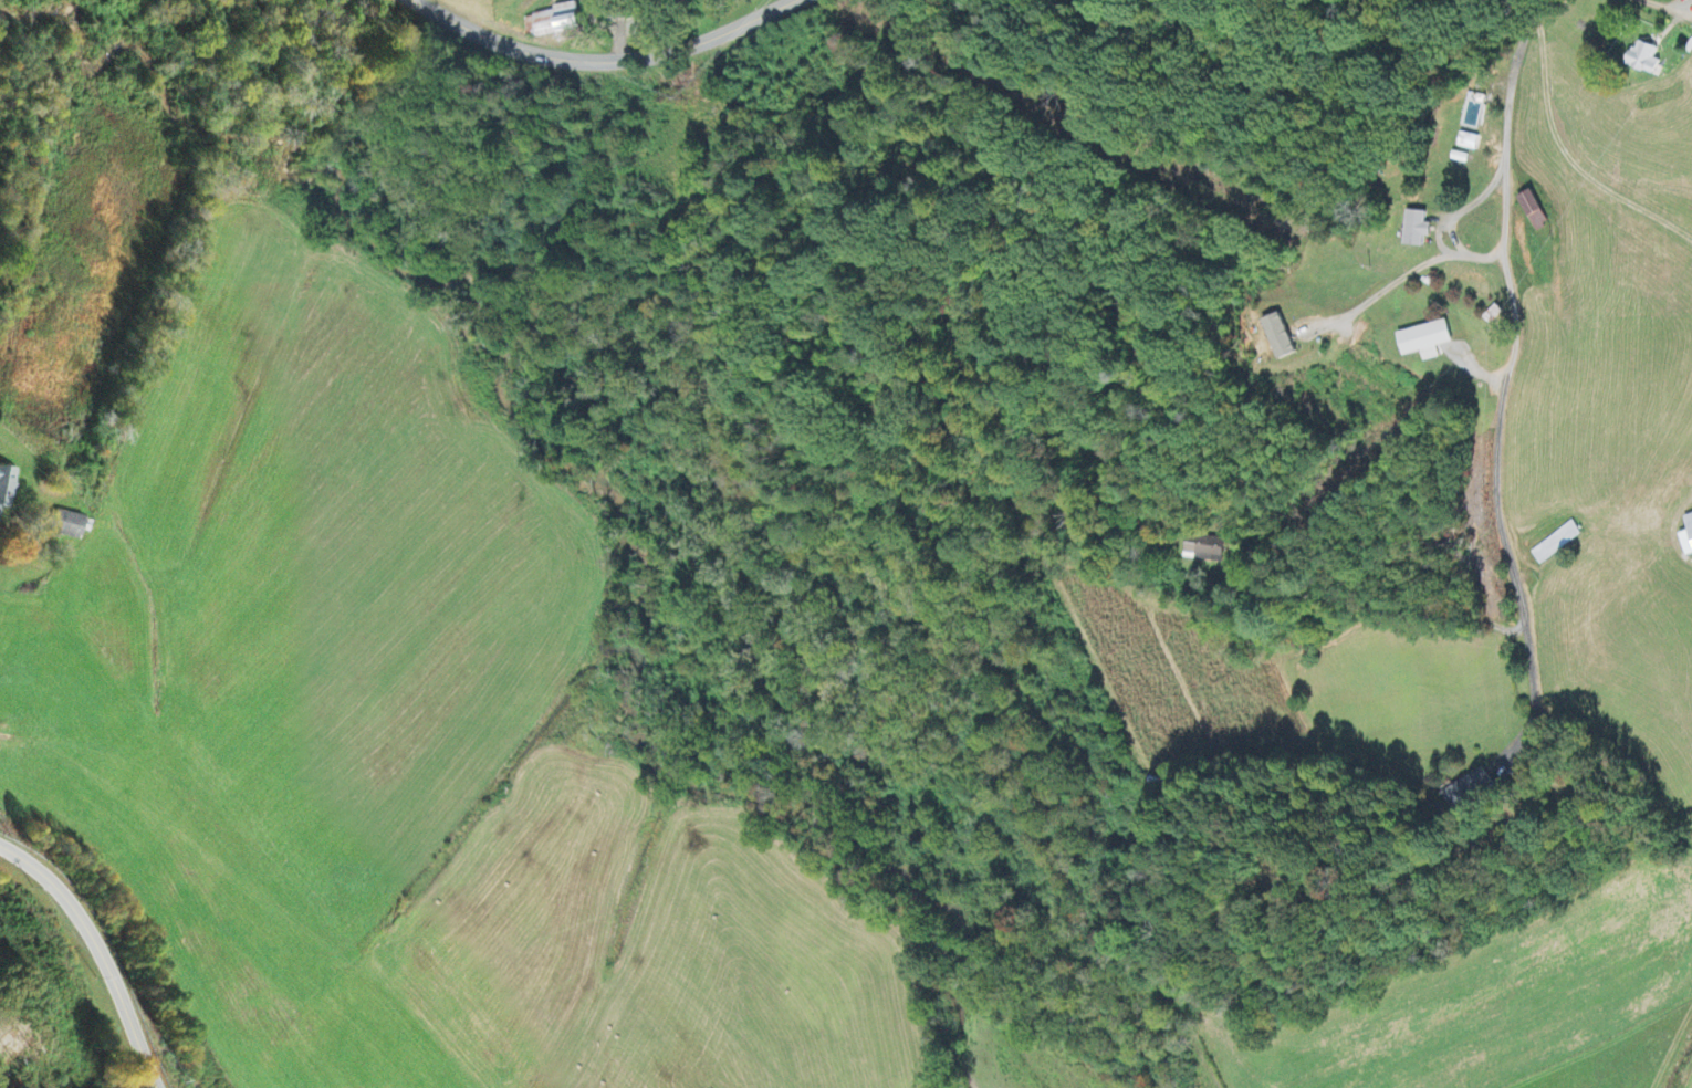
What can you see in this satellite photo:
road: (1664, 10)
building: (555, 24)
building: (1647, 60)
road: (603, 64)
building: (1469, 143)
building: (1535, 212)
building: (1418, 231)
building: (1281, 339)
building: (1427, 342)
road: (1510, 365)
building: (7, 489)
building: (69, 526)
building: (1688, 538)
building: (1205, 550)
building: (1470, 791)
park: (1308, 893)
road: (98, 951)

